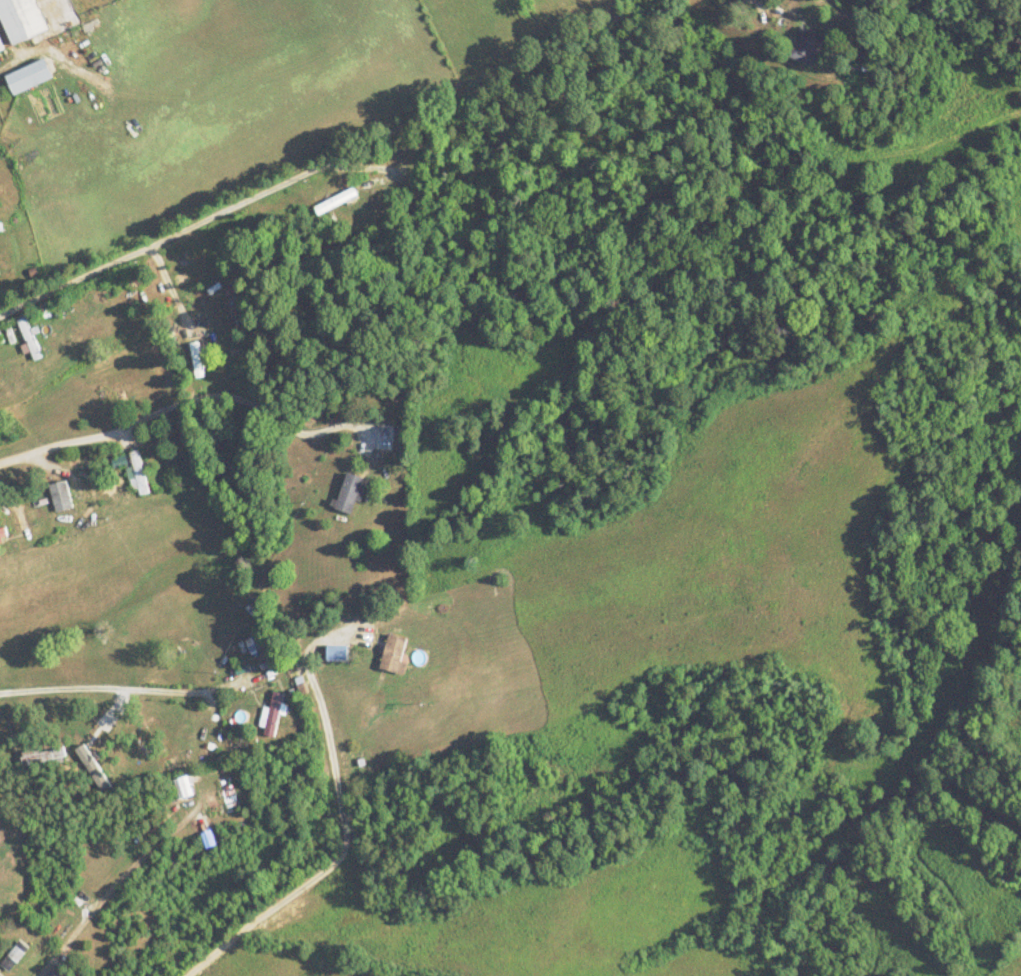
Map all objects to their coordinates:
building: (20, 19)
building: (805, 45)
building: (28, 76)
road: (303, 136)
building: (29, 339)
building: (197, 360)
building: (138, 472)
building: (348, 493)
building: (60, 495)
building: (1, 537)
building: (392, 653)
building: (273, 715)
building: (42, 755)
building: (182, 787)
building: (1, 844)

